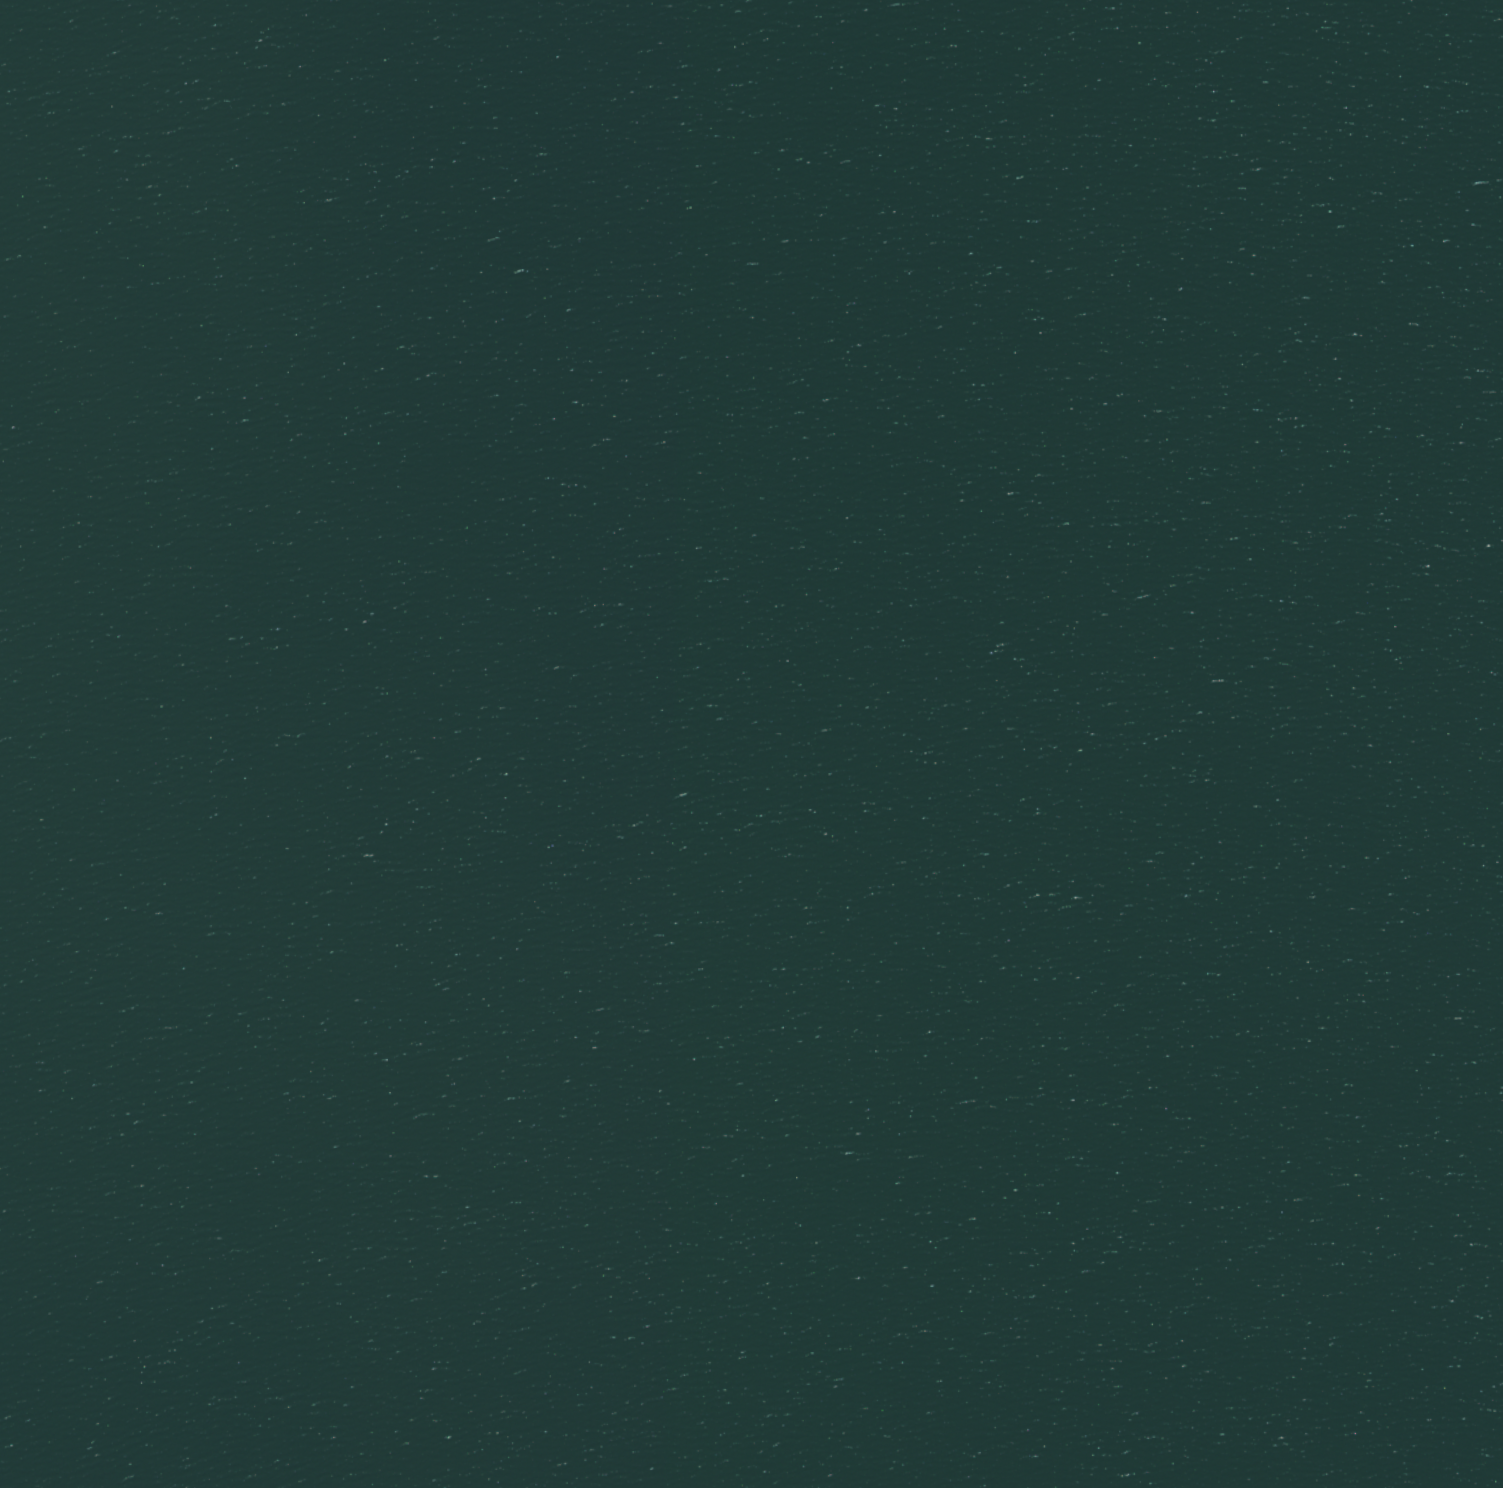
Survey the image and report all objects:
river: (1278, 1275)

